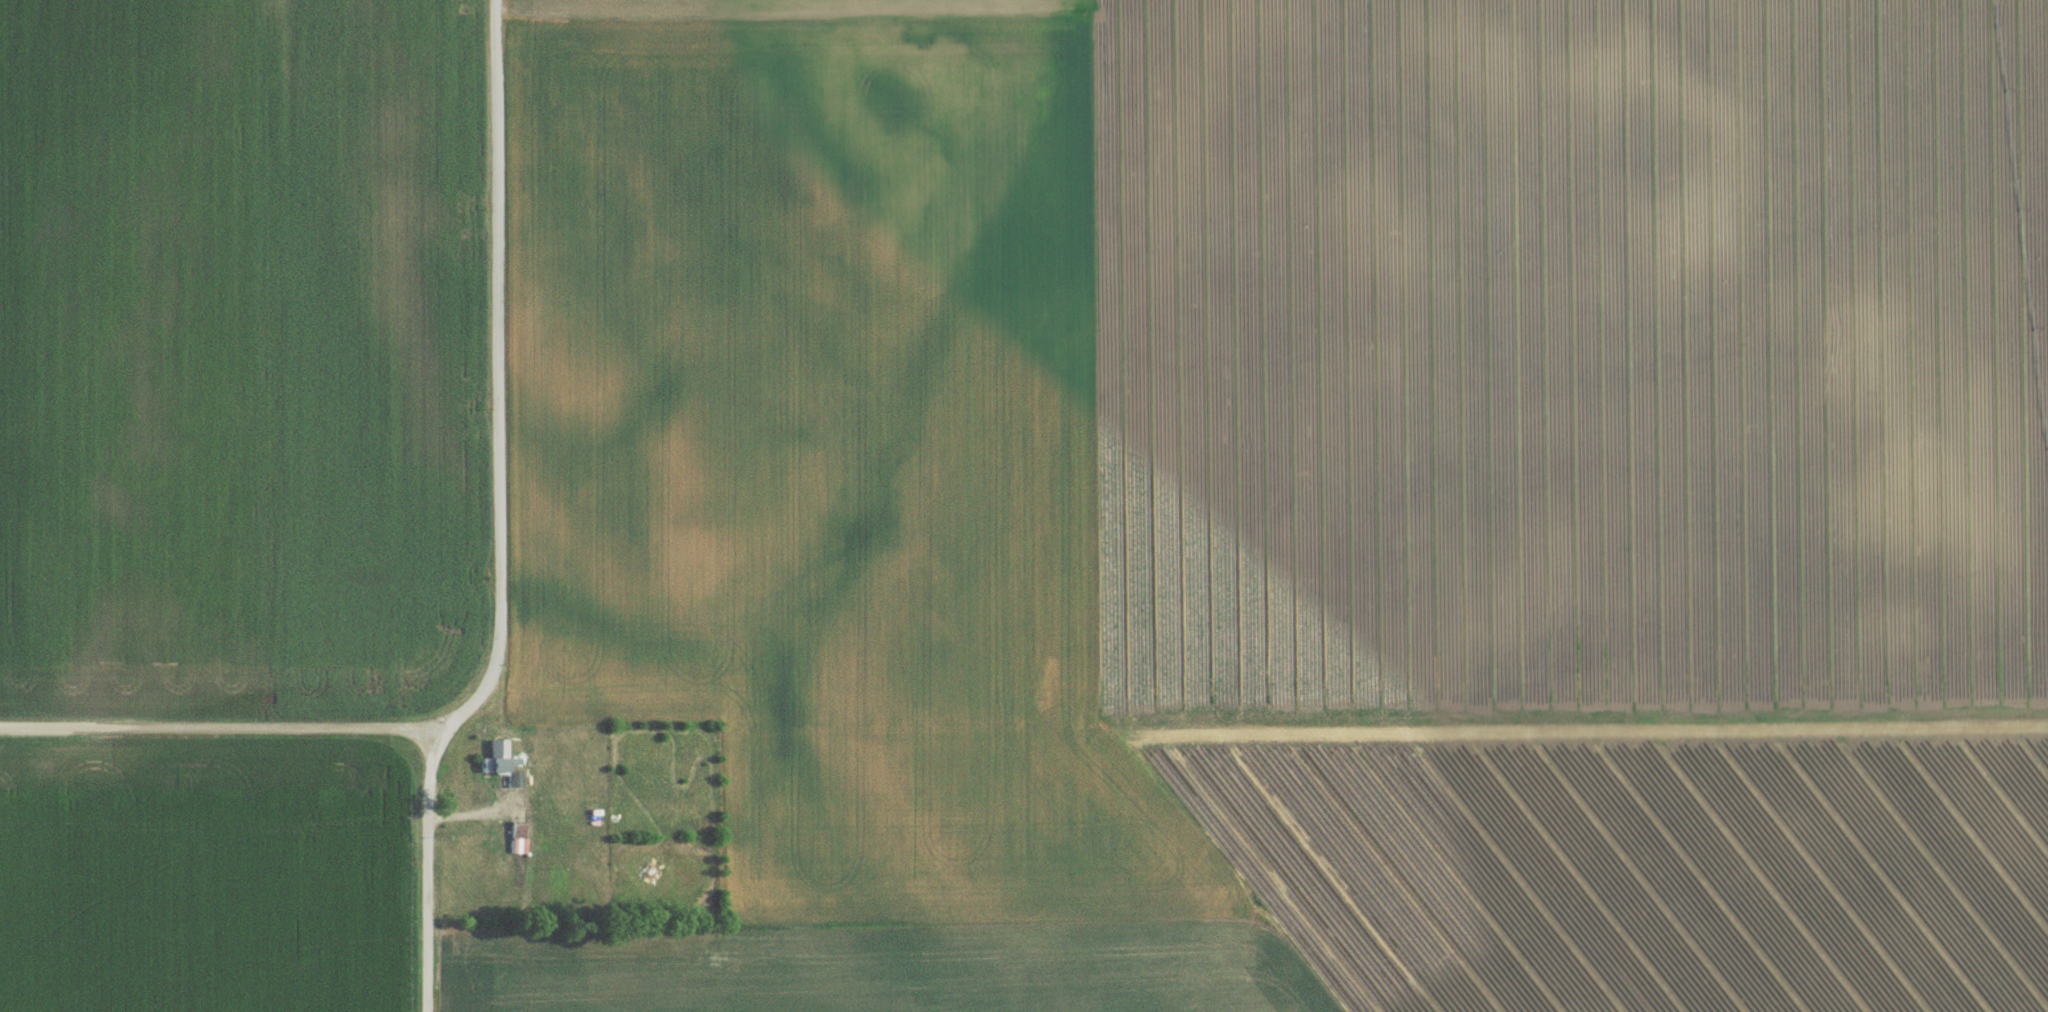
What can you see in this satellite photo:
road: (501, 598)
building: (492, 773)
building: (515, 787)
building: (517, 846)
road: (431, 873)

